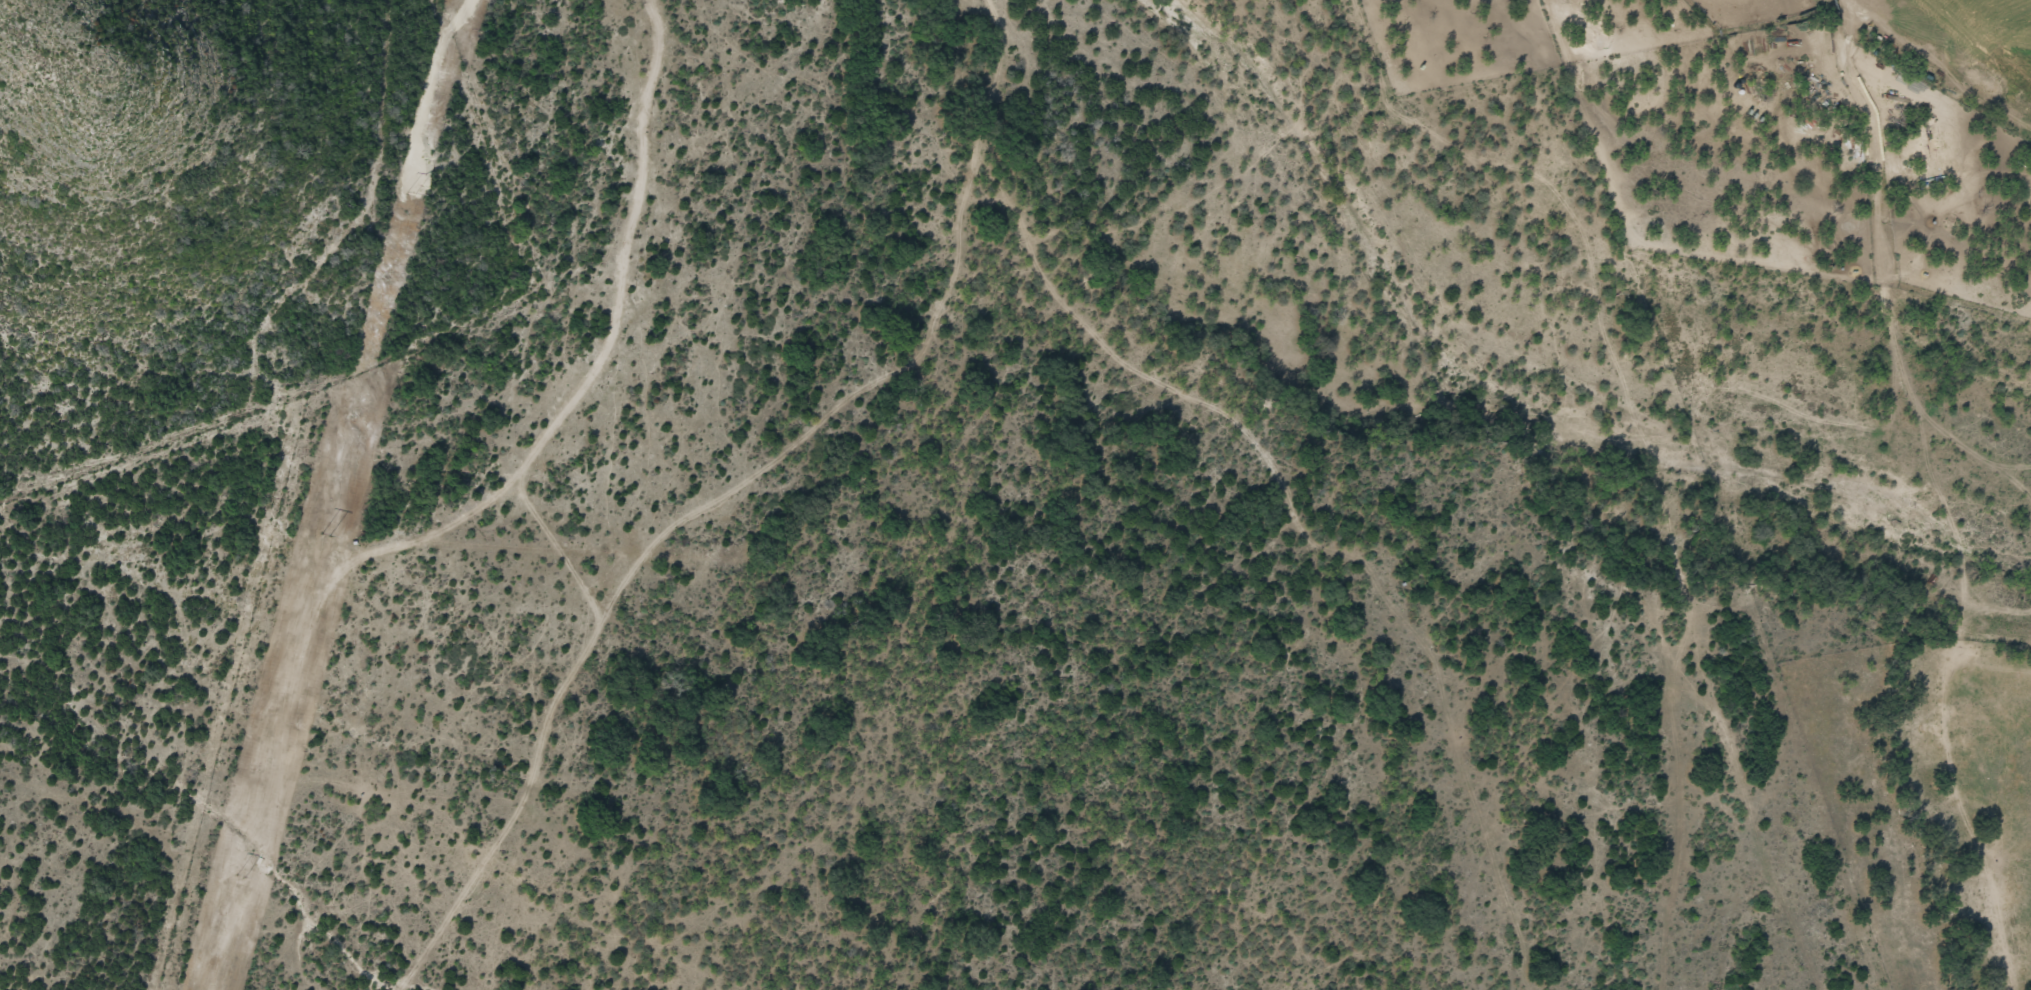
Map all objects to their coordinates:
power tower: (408, 195)
road: (458, 520)
power tower: (322, 536)
road: (667, 547)
power tower: (238, 877)

